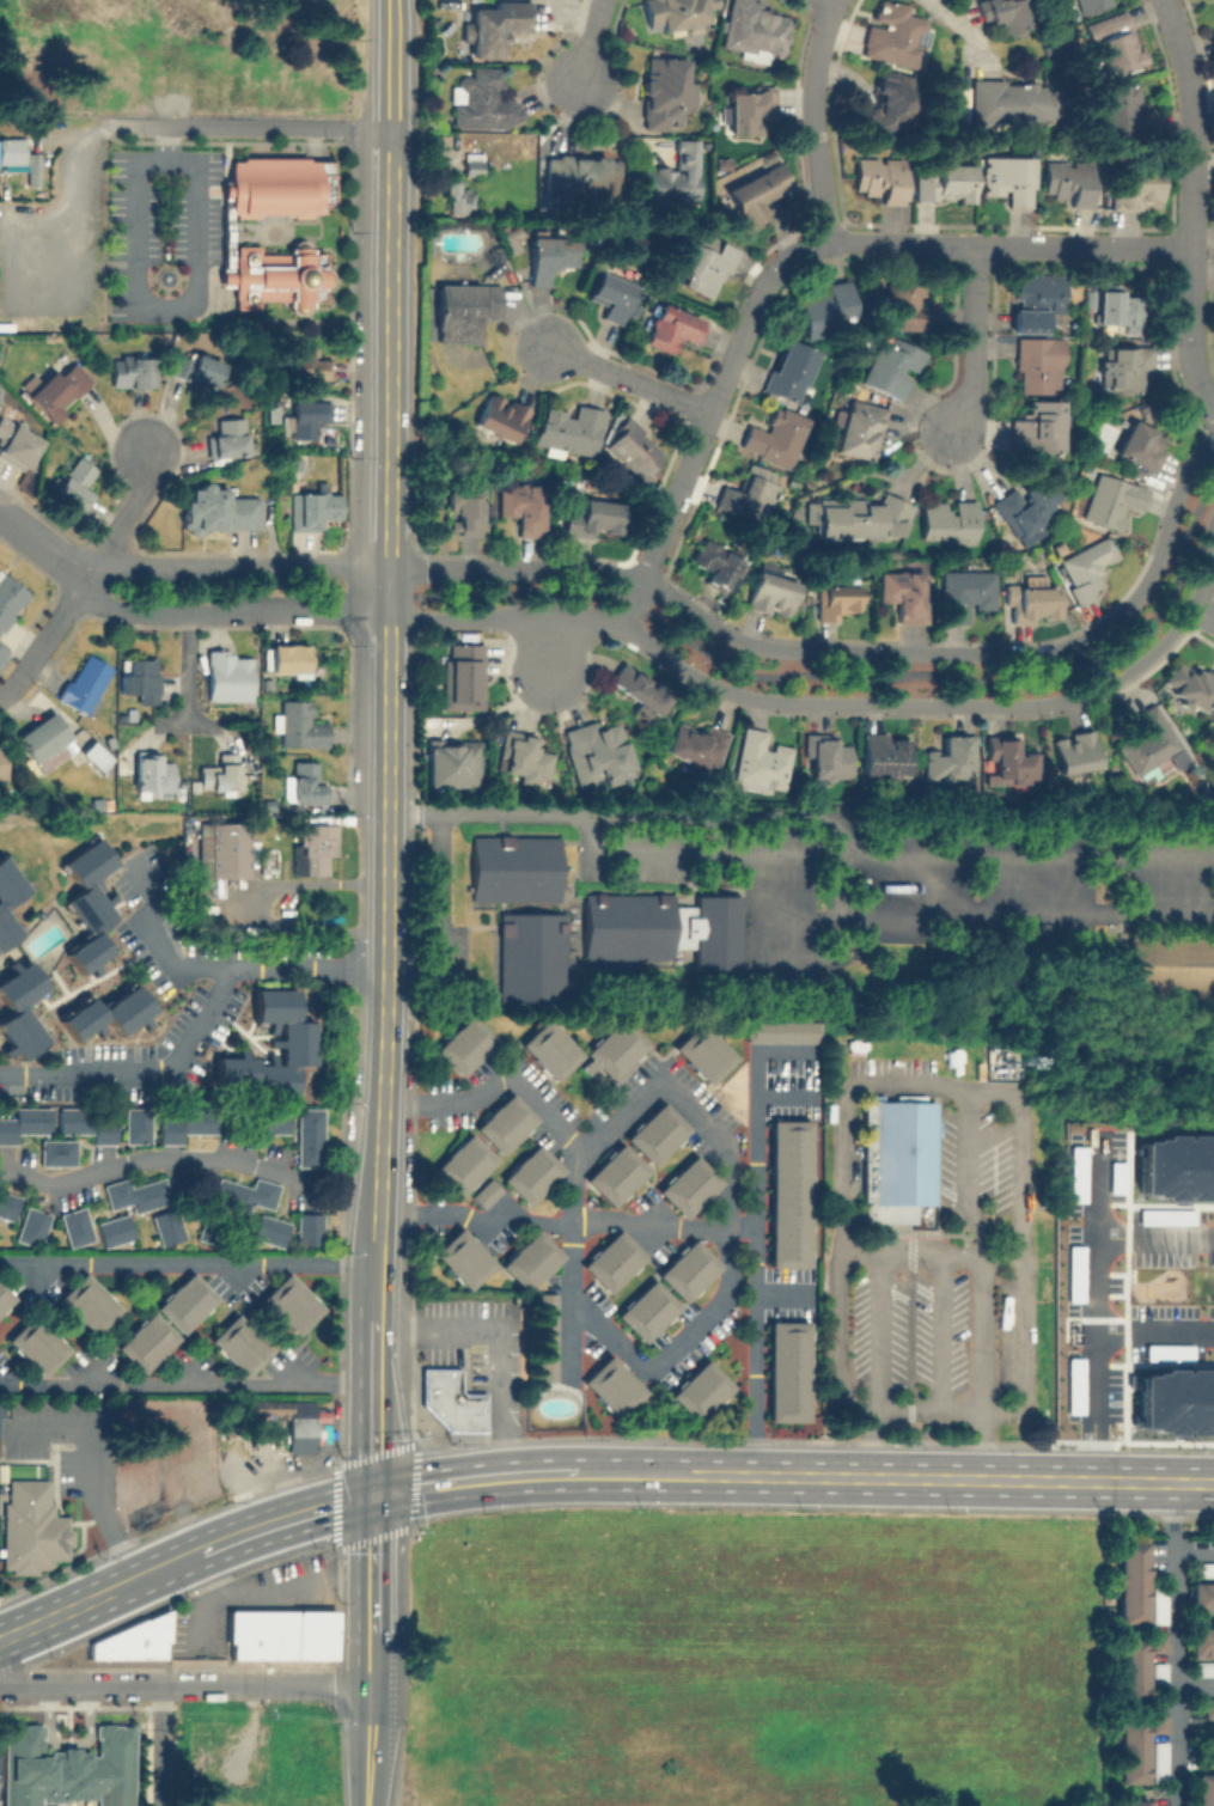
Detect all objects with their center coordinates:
road: (832, 0)
building: (1091, 5)
building: (675, 13)
building: (1006, 14)
building: (494, 28)
building: (756, 31)
road: (957, 31)
building: (893, 33)
road: (592, 39)
building: (1116, 42)
building: (1054, 48)
road: (394, 65)
building: (667, 91)
building: (486, 100)
building: (1012, 103)
building: (886, 106)
building: (750, 109)
building: (1125, 112)
road: (810, 118)
road: (262, 127)
building: (18, 159)
building: (471, 163)
road: (69, 166)
road: (394, 173)
building: (676, 175)
building: (580, 177)
building: (880, 178)
building: (1009, 178)
building: (1070, 181)
building: (944, 182)
building: (323, 183)
building: (272, 185)
building: (762, 188)
building: (1137, 190)
building: (457, 199)
road: (1186, 208)
building: (513, 239)
building: (554, 256)
road: (783, 257)
building: (703, 262)
building: (274, 276)
building: (612, 295)
building: (1038, 299)
road: (148, 301)
building: (909, 304)
building: (1120, 306)
building: (466, 309)
building: (826, 310)
building: (673, 329)
road: (969, 338)
building: (197, 364)
building: (307, 364)
building: (1041, 364)
building: (891, 367)
building: (1127, 367)
building: (132, 371)
building: (792, 371)
road: (626, 378)
building: (59, 389)
road: (392, 392)
building: (270, 414)
building: (501, 416)
building: (309, 419)
building: (1039, 427)
building: (572, 429)
building: (861, 431)
building: (228, 438)
building: (776, 438)
building: (17, 444)
building: (634, 446)
building: (1137, 449)
building: (74, 481)
building: (749, 494)
building: (1112, 501)
building: (519, 506)
building: (310, 508)
building: (462, 510)
building: (1023, 510)
building: (215, 511)
road: (124, 517)
building: (590, 518)
building: (862, 519)
building: (948, 519)
road: (43, 547)
street lamp: (488, 556)
building: (716, 562)
road: (238, 563)
building: (1087, 568)
road: (514, 592)
building: (771, 593)
building: (904, 594)
building: (963, 594)
building: (11, 599)
road: (629, 602)
building: (835, 602)
building: (1035, 603)
road: (232, 610)
street lamp: (713, 616)
road: (1202, 616)
road: (45, 639)
street lamp: (867, 641)
road: (543, 646)
road: (853, 649)
building: (4, 654)
building: (292, 660)
building: (140, 677)
building: (228, 677)
building: (464, 678)
road: (972, 678)
road: (183, 681)
building: (267, 684)
building: (1189, 684)
building: (84, 688)
road: (390, 689)
building: (641, 690)
road: (837, 702)
street lamp: (553, 713)
street lamp: (1035, 715)
road: (199, 721)
building: (300, 727)
building: (42, 734)
building: (1148, 740)
building: (696, 743)
building: (1076, 750)
building: (596, 753)
building: (93, 755)
building: (880, 755)
building: (525, 756)
building: (826, 756)
building: (1011, 758)
building: (950, 759)
building: (761, 762)
building: (453, 763)
building: (4, 764)
building: (152, 773)
building: (221, 775)
building: (305, 786)
building: (269, 805)
road: (809, 817)
building: (312, 848)
building: (222, 850)
building: (512, 868)
building: (8, 899)
building: (89, 903)
road: (441, 917)
building: (624, 926)
road: (159, 944)
building: (529, 957)
road: (389, 959)
building: (1170, 971)
building: (18, 1011)
building: (109, 1014)
road: (195, 1019)
building: (783, 1032)
building: (291, 1042)
building: (465, 1047)
building: (551, 1050)
building: (620, 1050)
building: (703, 1053)
road: (939, 1085)
building: (269, 1119)
road: (700, 1119)
building: (23, 1122)
building: (83, 1123)
building: (134, 1124)
building: (184, 1124)
building: (507, 1124)
building: (657, 1131)
building: (307, 1136)
road: (383, 1147)
building: (55, 1152)
building: (895, 1157)
road: (190, 1158)
building: (464, 1164)
building: (1177, 1169)
road: (966, 1171)
building: (533, 1176)
building: (615, 1176)
building: (689, 1190)
building: (134, 1194)
building: (242, 1194)
building: (486, 1195)
building: (791, 1195)
building: (6, 1204)
road: (380, 1215)
road: (567, 1222)
building: (30, 1226)
building: (74, 1226)
building: (166, 1226)
building: (306, 1228)
building: (112, 1230)
building: (213, 1230)
building: (268, 1230)
road: (1155, 1245)
road: (929, 1252)
building: (463, 1258)
building: (530, 1261)
building: (614, 1263)
road: (755, 1263)
road: (189, 1264)
road: (571, 1264)
building: (690, 1271)
road: (378, 1281)
building: (4, 1296)
building: (183, 1301)
building: (87, 1302)
building: (289, 1302)
road: (1096, 1310)
building: (647, 1313)
road: (881, 1332)
road: (937, 1332)
road: (980, 1335)
building: (549, 1337)
road: (1154, 1337)
building: (144, 1341)
building: (36, 1343)
building: (239, 1344)
building: (1152, 1346)
road: (494, 1347)
parking lot: (480, 1349)
building: (789, 1372)
road: (187, 1384)
building: (614, 1386)
building: (700, 1391)
building: (449, 1401)
building: (1176, 1403)
road: (374, 1408)
road: (921, 1410)
building: (299, 1424)
road: (92, 1466)
road: (834, 1477)
road: (474, 1479)
road: (1153, 1482)
traffic signals: (374, 1496)
road: (310, 1512)
building: (32, 1527)
road: (200, 1550)
road: (1194, 1550)
road: (374, 1564)
building: (1202, 1569)
building: (1131, 1582)
road: (268, 1593)
building: (1201, 1597)
road: (81, 1603)
building: (1159, 1604)
building: (279, 1633)
road: (4, 1636)
building: (133, 1639)
building: (1201, 1642)
road: (1173, 1643)
road: (373, 1659)
building: (1136, 1666)
building: (1203, 1672)
building: (1159, 1677)
road: (86, 1685)
road: (274, 1685)
road: (1194, 1688)
building: (1209, 1708)
road: (159, 1745)
road: (370, 1745)
building: (1136, 1745)
building: (1159, 1764)
building: (67, 1770)
building: (1203, 1789)
building: (1135, 1802)

